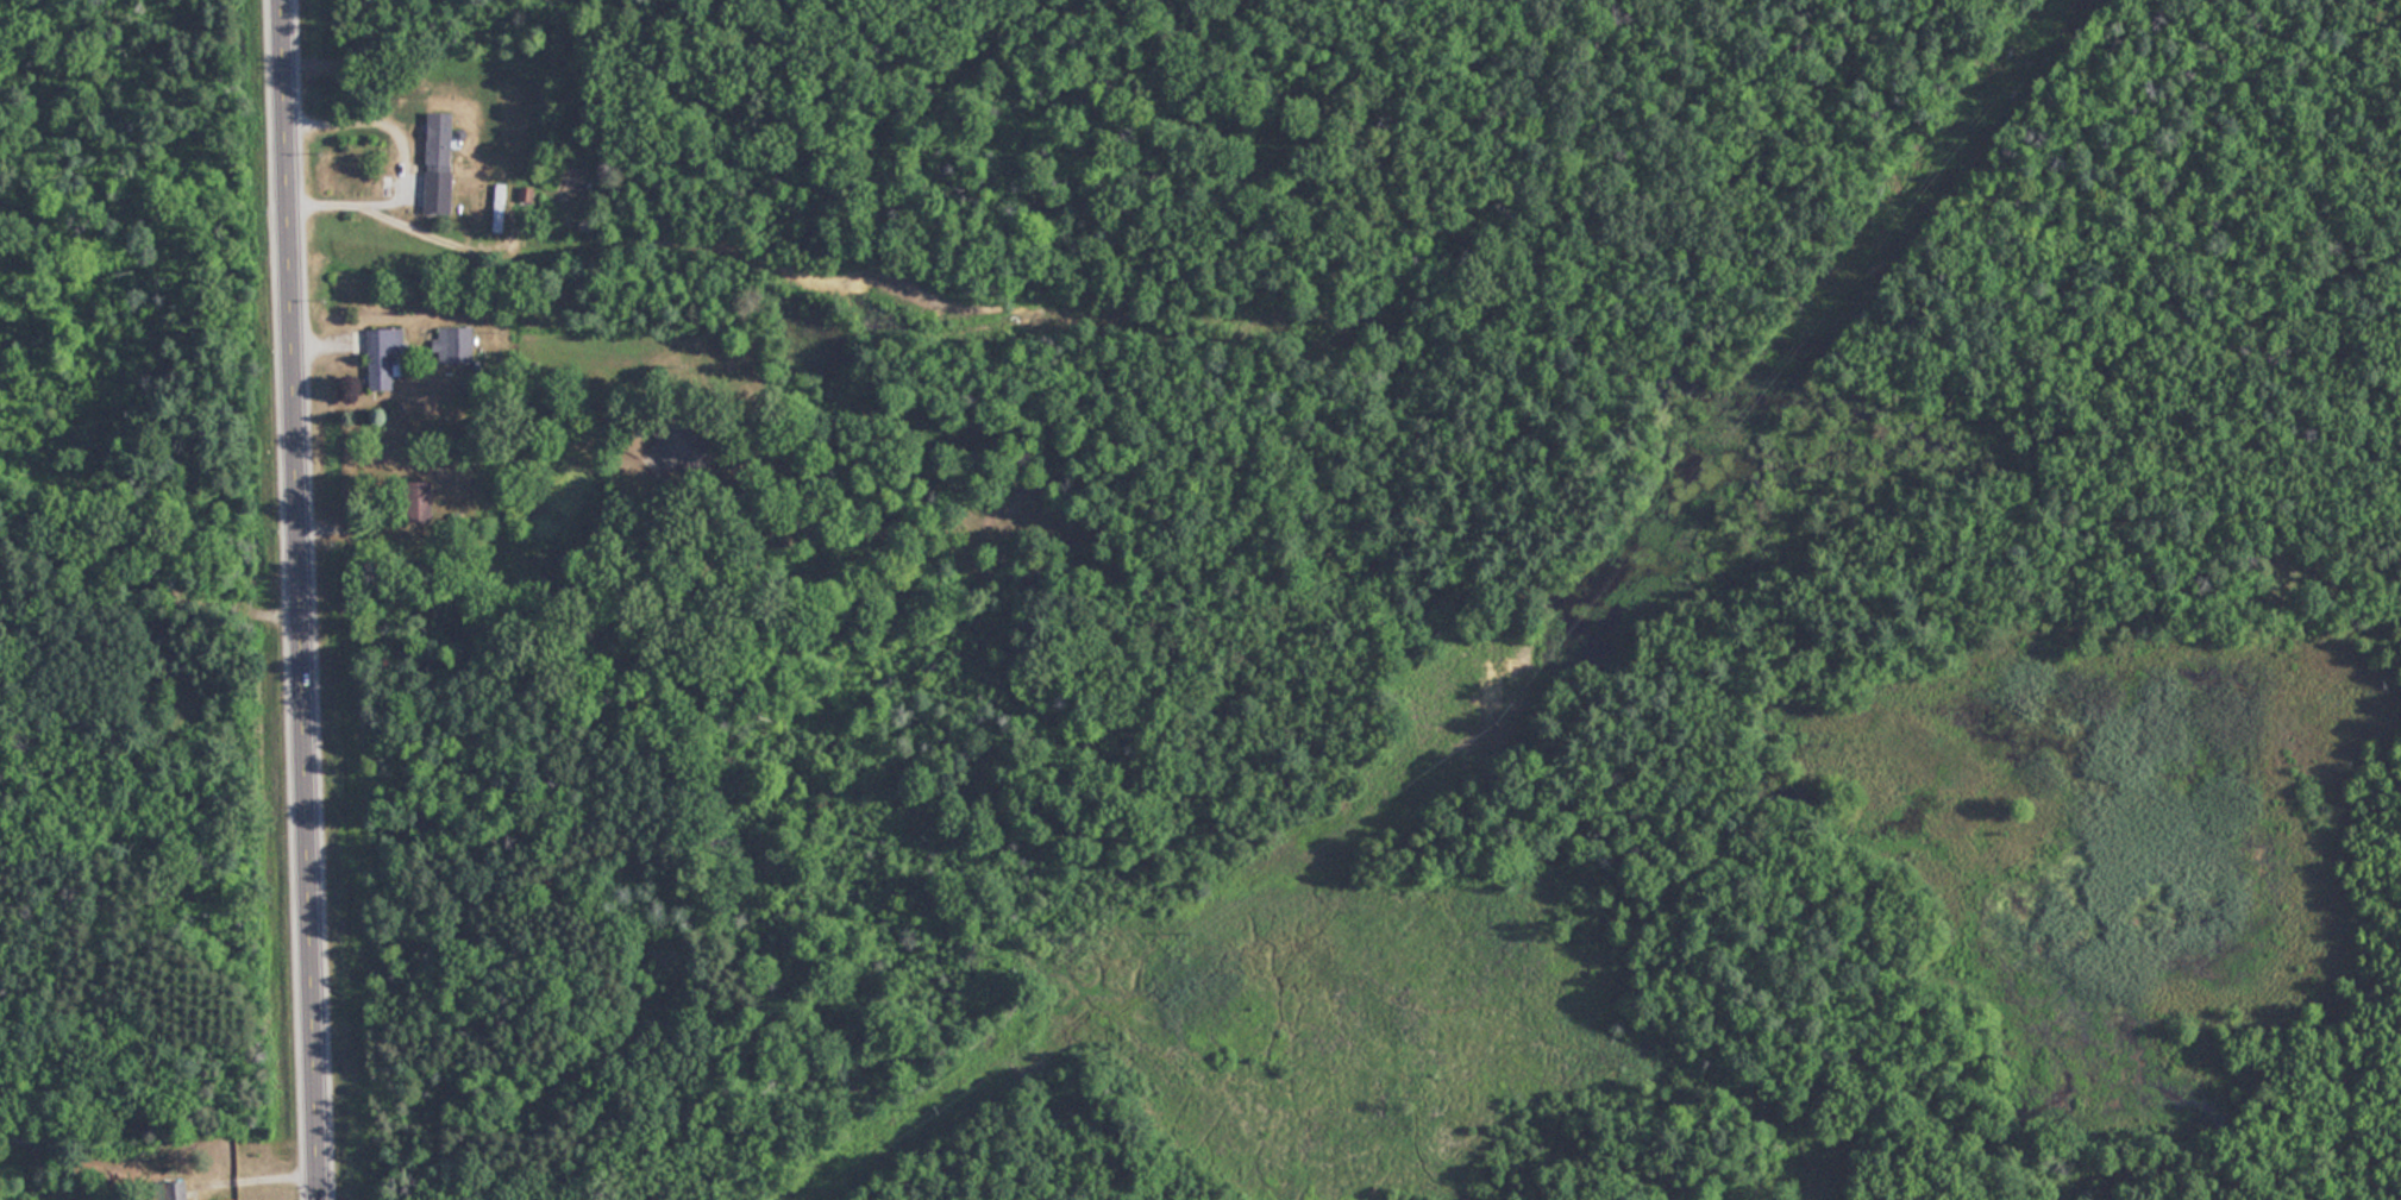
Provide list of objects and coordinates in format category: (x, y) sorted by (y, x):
road: (401, 162)
building: (440, 163)
building: (501, 207)
building: (449, 345)
building: (387, 357)
road: (300, 599)
park: (1507, 689)
building: (176, 1190)

